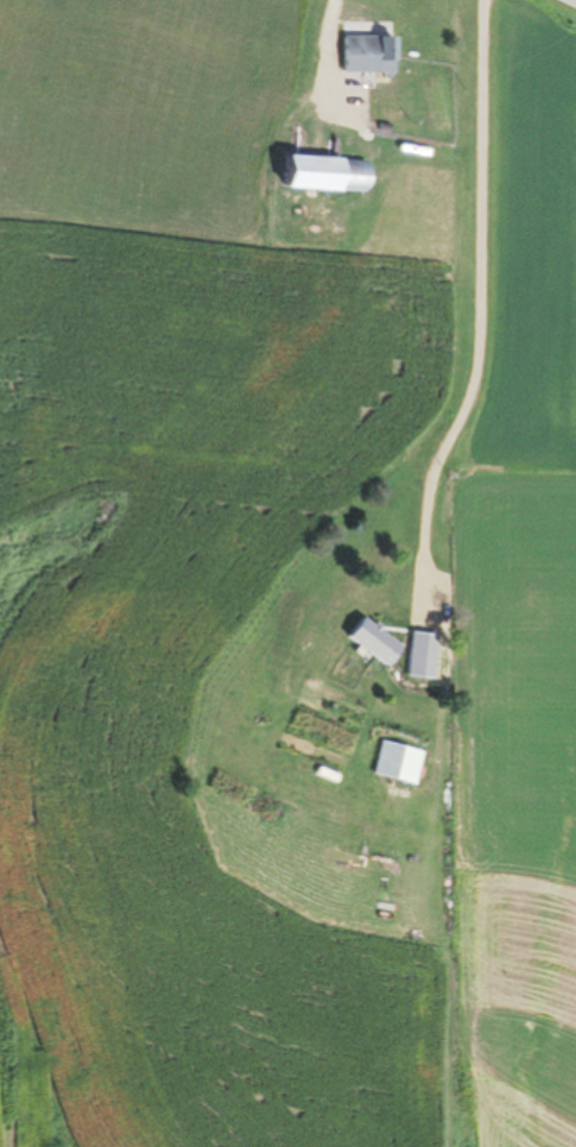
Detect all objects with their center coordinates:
building: (368, 53)
building: (325, 174)
building: (374, 642)
building: (420, 664)
building: (386, 751)

